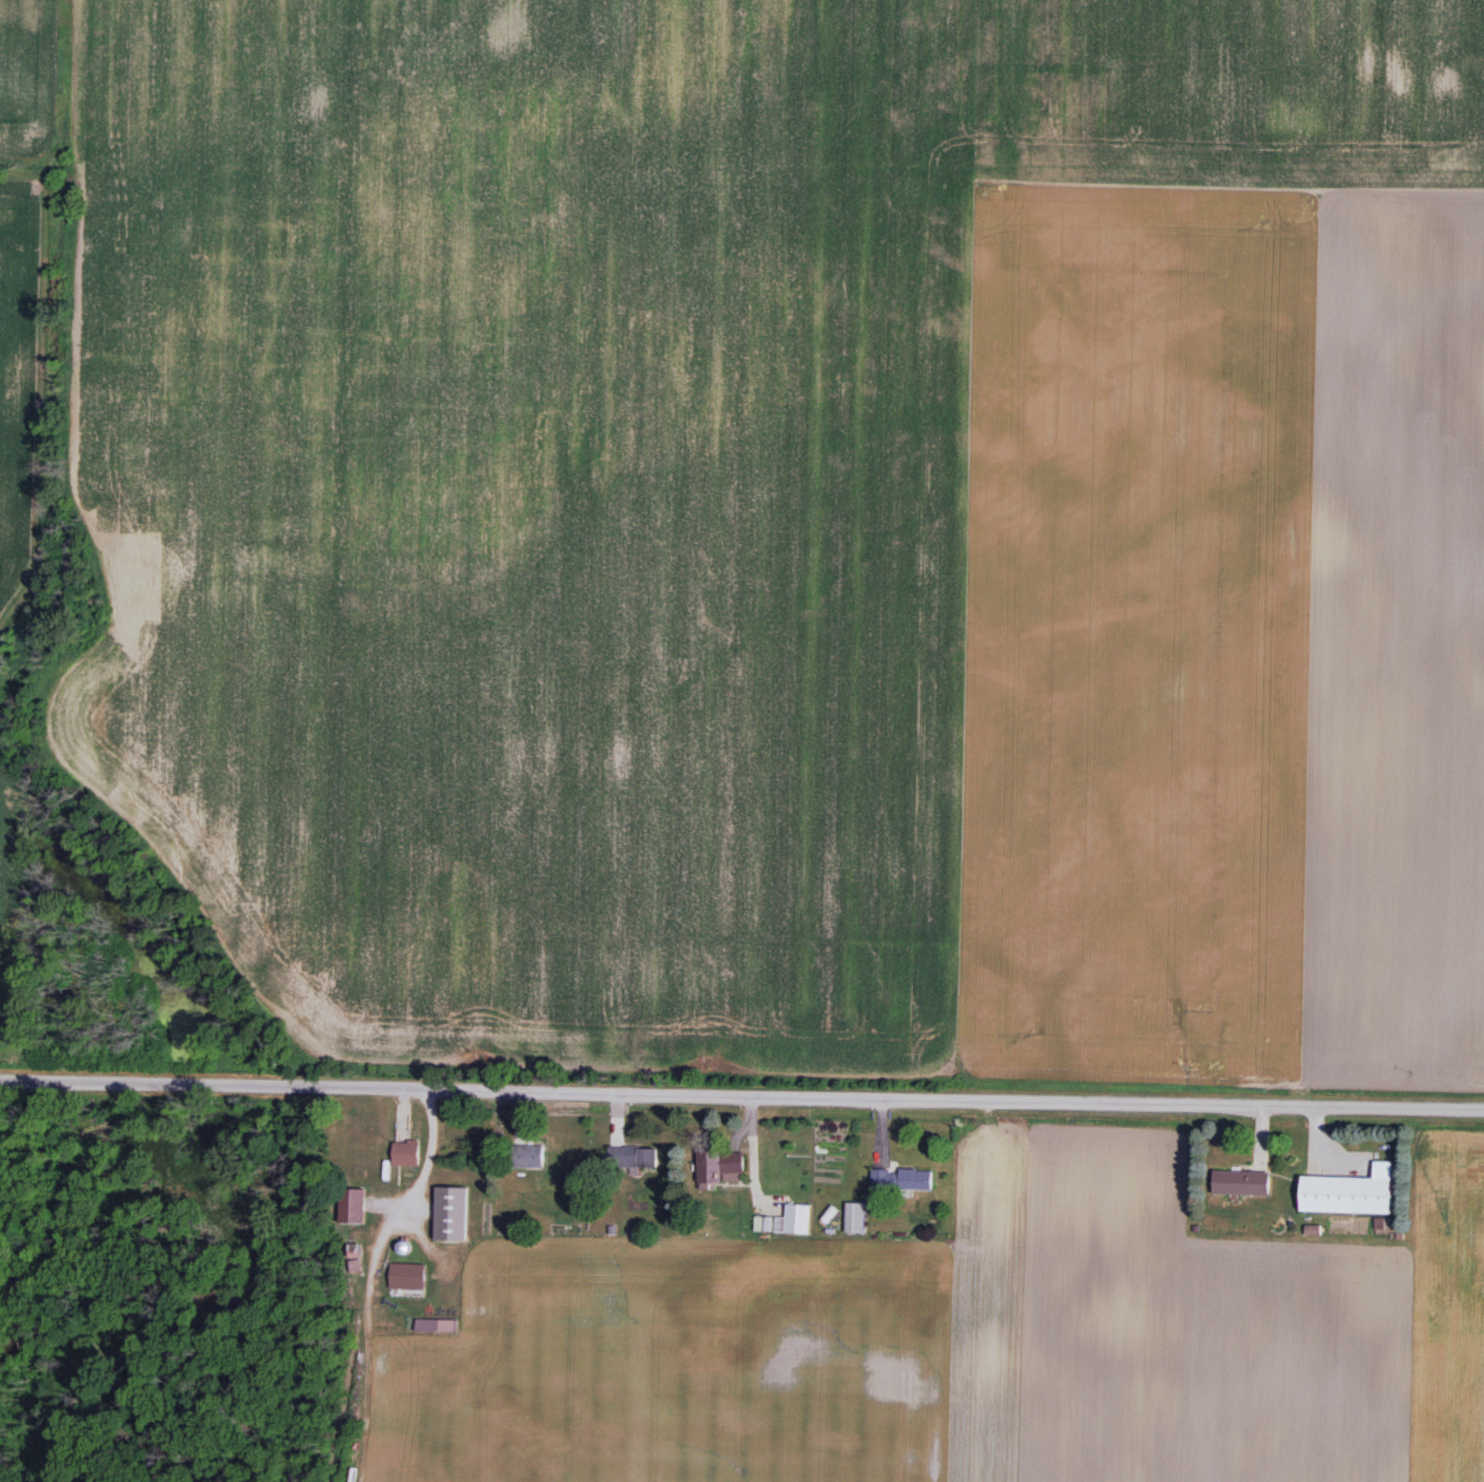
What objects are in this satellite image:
road: (742, 1090)
building: (381, 1151)
building: (527, 1156)
building: (633, 1156)
building: (721, 1165)
building: (902, 1179)
building: (1241, 1183)
building: (1345, 1196)
building: (352, 1205)
building: (450, 1213)
building: (855, 1217)
building: (786, 1220)
building: (355, 1265)
building: (407, 1279)
river: (220, 1287)

